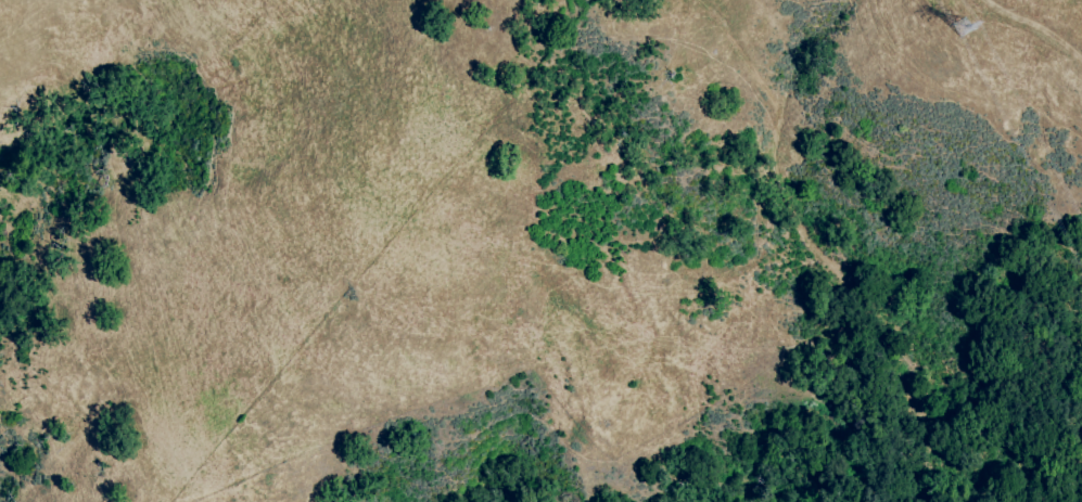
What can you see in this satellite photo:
power tower: (959, 25)

